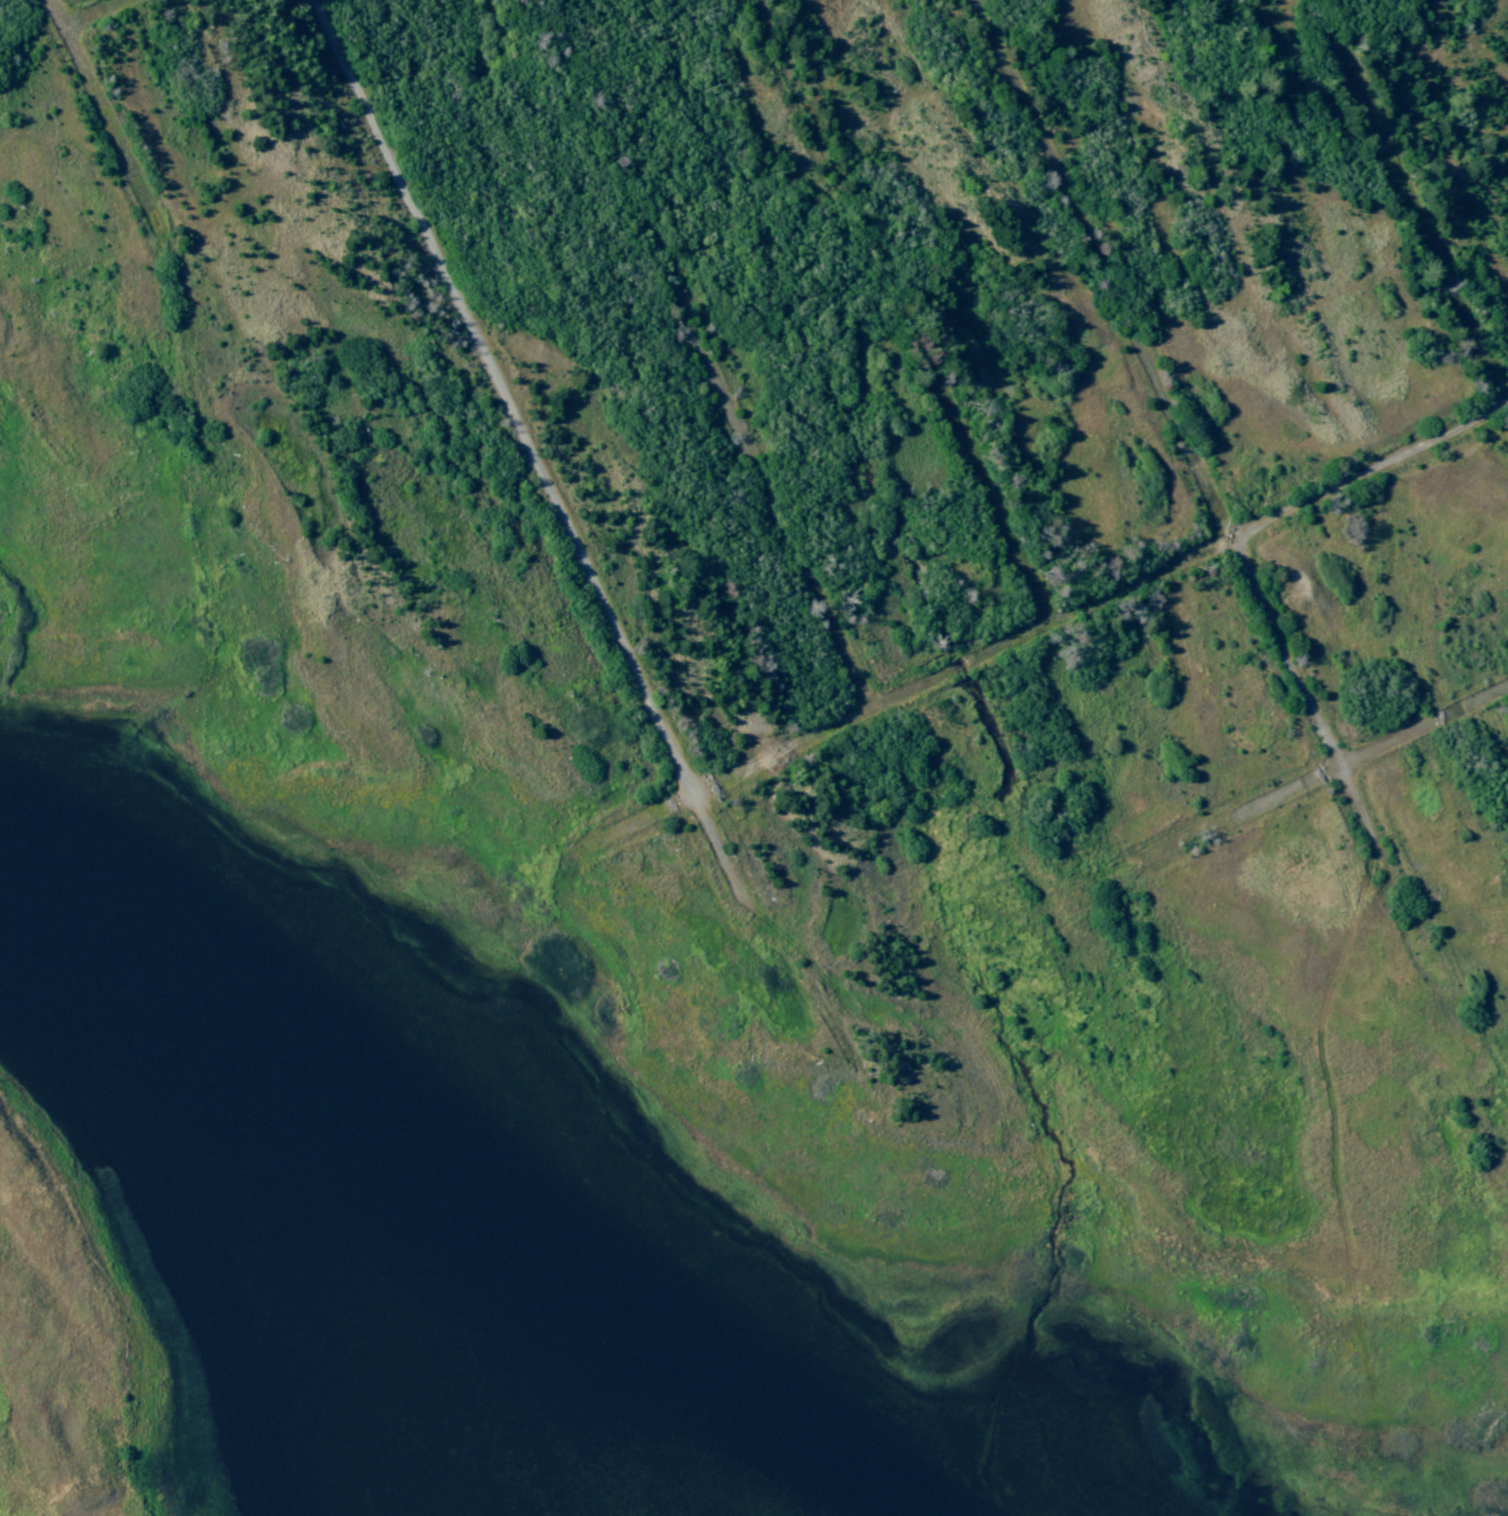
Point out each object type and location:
road: (103, 16)
road: (105, 111)
road: (1411, 201)
road: (1105, 270)
road: (904, 313)
road: (705, 357)
road: (532, 457)
road: (1046, 629)
road: (1285, 656)
road: (1424, 731)
road: (1234, 823)
road: (1382, 857)

